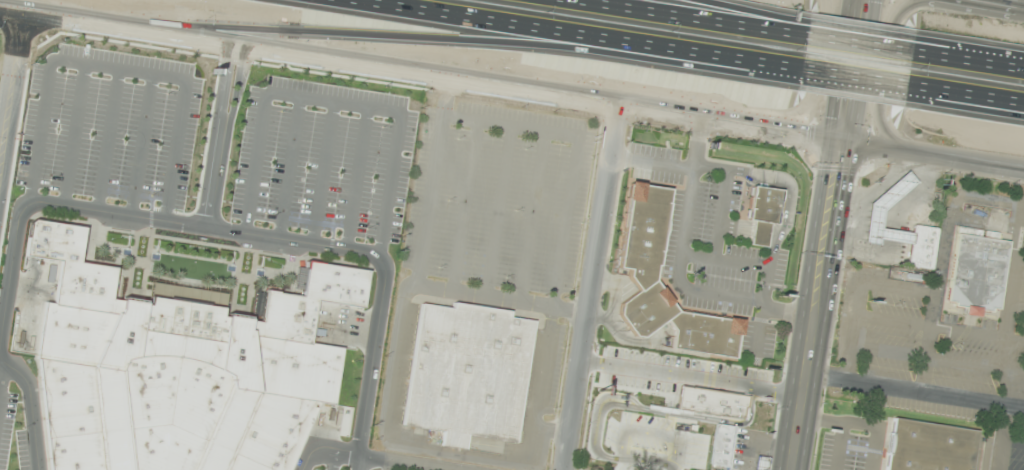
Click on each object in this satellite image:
road: (992, 0)
road: (1005, 3)
road: (741, 16)
road: (687, 19)
road: (587, 33)
road: (860, 41)
road: (417, 44)
road: (968, 58)
road: (118, 68)
road: (852, 70)
road: (419, 72)
road: (854, 75)
road: (887, 78)
road: (11, 81)
road: (815, 93)
road: (964, 93)
road: (333, 100)
road: (962, 106)
road: (71, 134)
road: (214, 135)
road: (225, 136)
road: (106, 140)
traffic signals: (839, 141)
road: (140, 145)
road: (576, 153)
road: (931, 157)
road: (651, 163)
road: (288, 167)
road: (321, 172)
road: (354, 177)
road: (954, 195)
road: (723, 196)
road: (464, 205)
gas station: (878, 205)
road: (788, 208)
road: (499, 210)
building: (762, 212)
road: (532, 215)
road: (200, 227)
road: (1022, 237)
building: (921, 246)
road: (724, 259)
road: (678, 270)
building: (976, 270)
road: (7, 271)
building: (640, 271)
road: (1019, 271)
road: (591, 287)
road: (861, 292)
road: (764, 294)
road: (502, 297)
road: (814, 305)
road: (1017, 307)
road: (894, 320)
road: (977, 332)
road: (938, 360)
building: (178, 369)
road: (1, 371)
road: (368, 372)
building: (469, 373)
road: (913, 391)
road: (386, 401)
building: (715, 406)
road: (25, 410)
road: (860, 423)
road: (551, 431)
road: (1001, 437)
road: (1012, 442)
building: (722, 445)
road: (839, 446)
building: (929, 446)
road: (321, 447)
road: (332, 459)
road: (983, 460)
road: (407, 462)
gas station: (760, 462)
building: (761, 463)
road: (386, 464)
parking lot: (387, 466)
road: (416, 467)
road: (451, 469)

